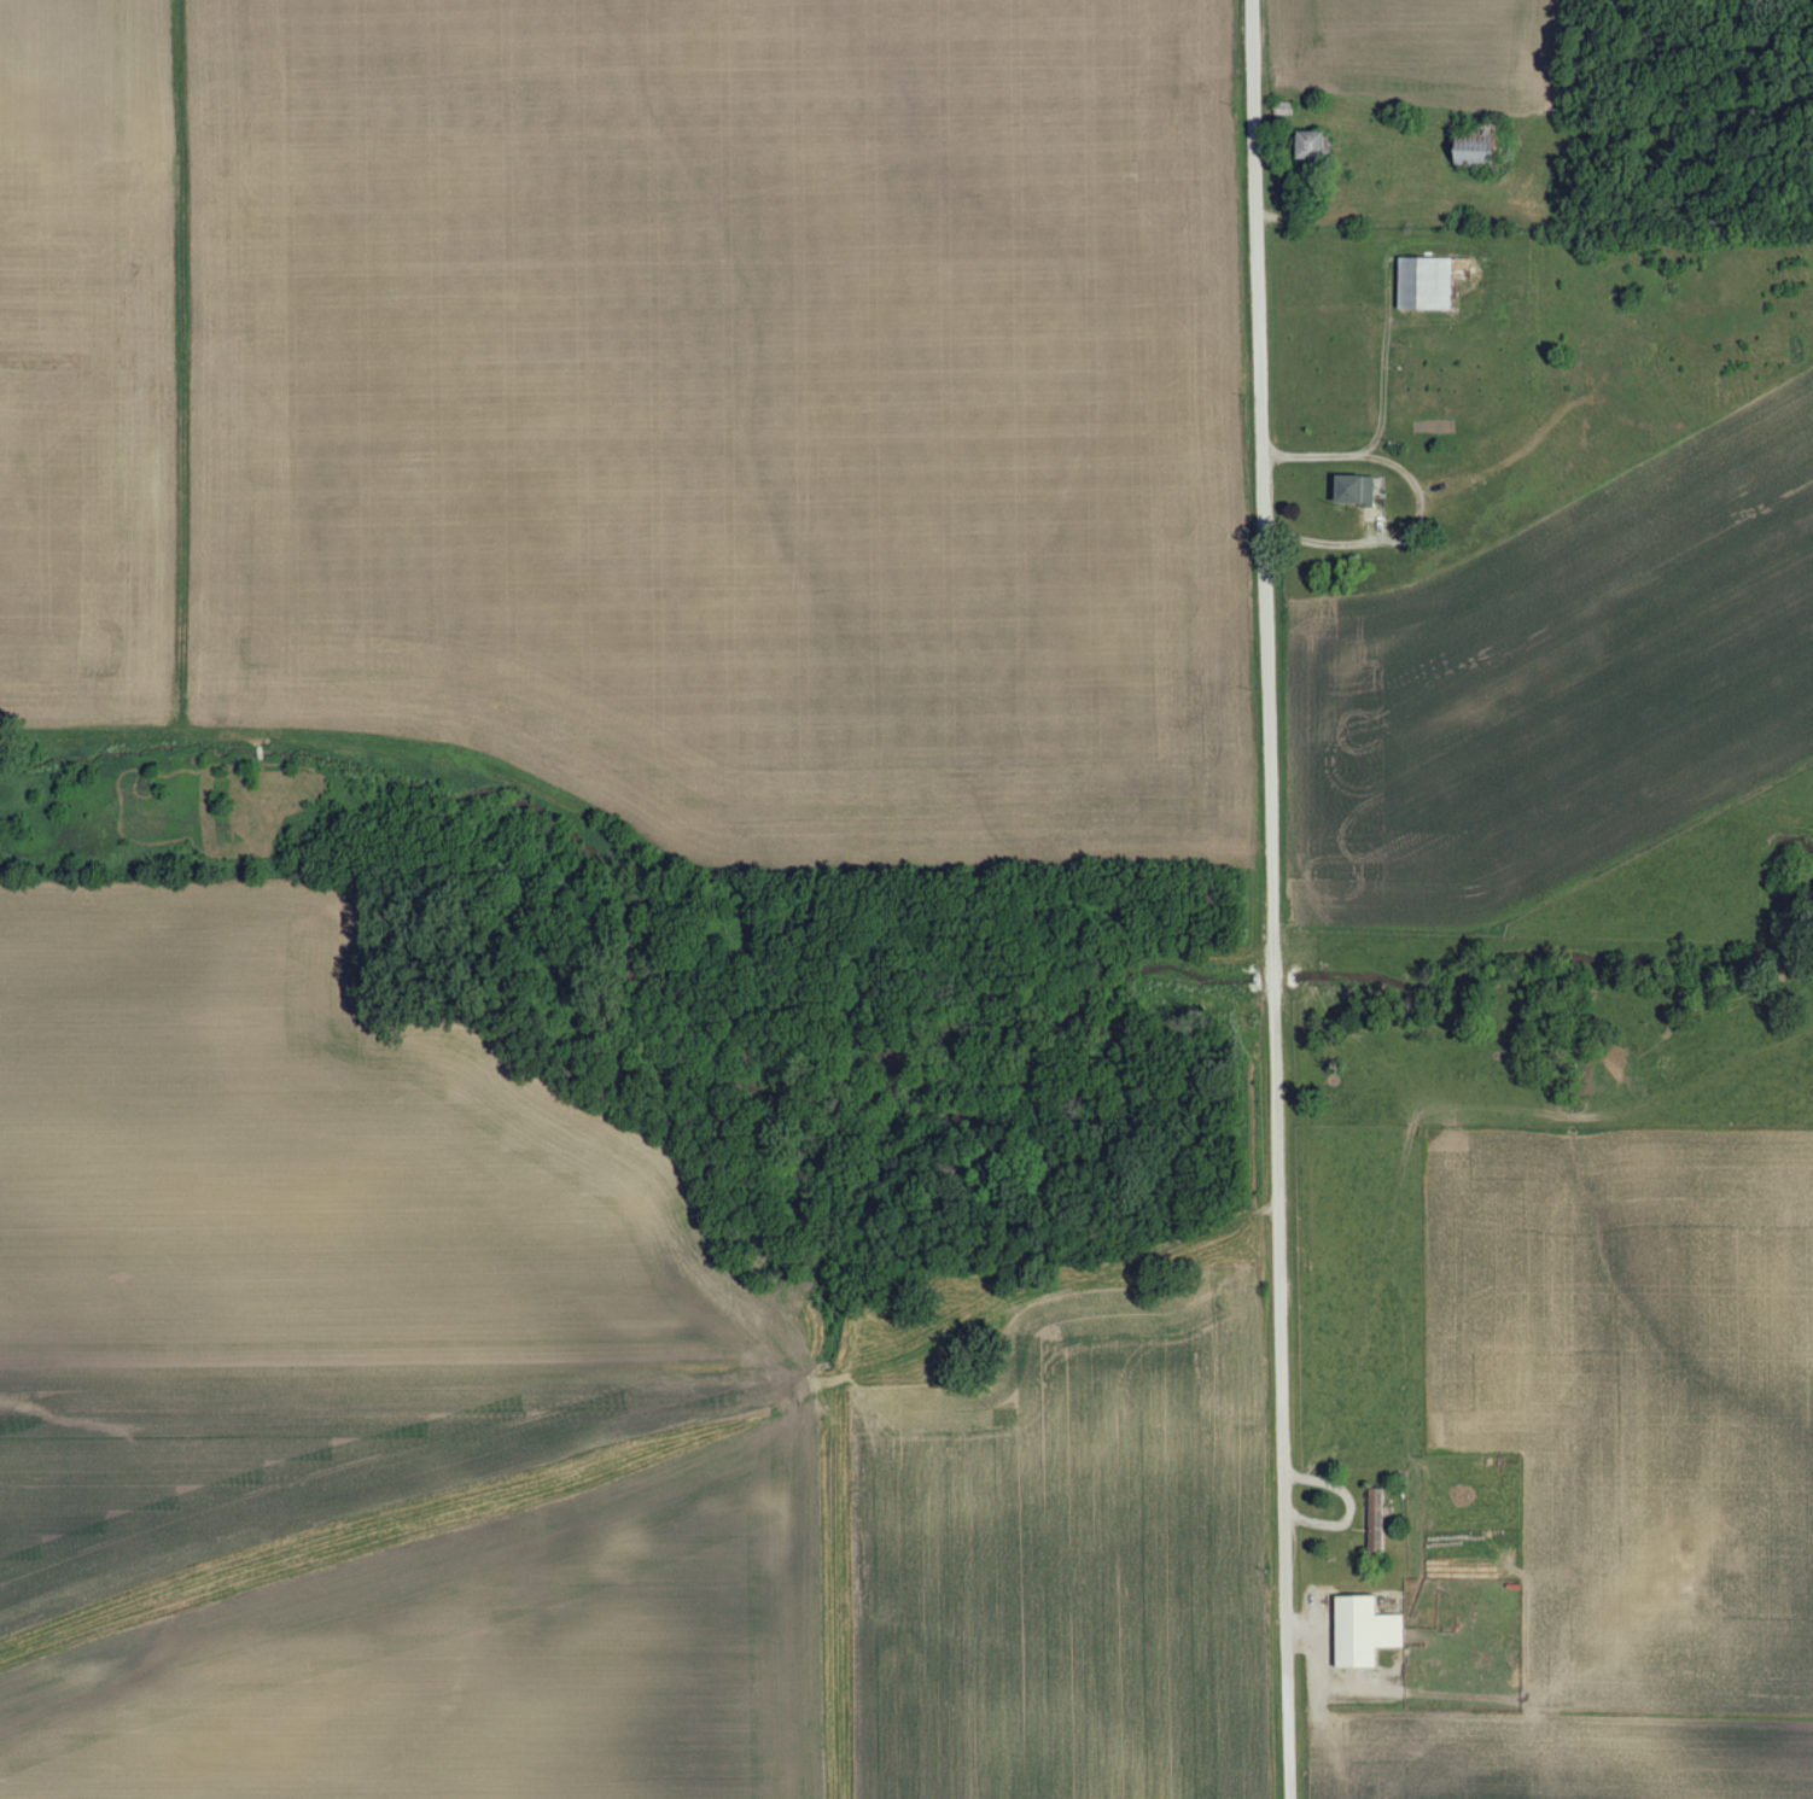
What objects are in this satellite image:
building: (1318, 145)
building: (1485, 148)
building: (1430, 284)
building: (1362, 491)
road: (1275, 899)
building: (1381, 1520)
building: (1370, 1634)

